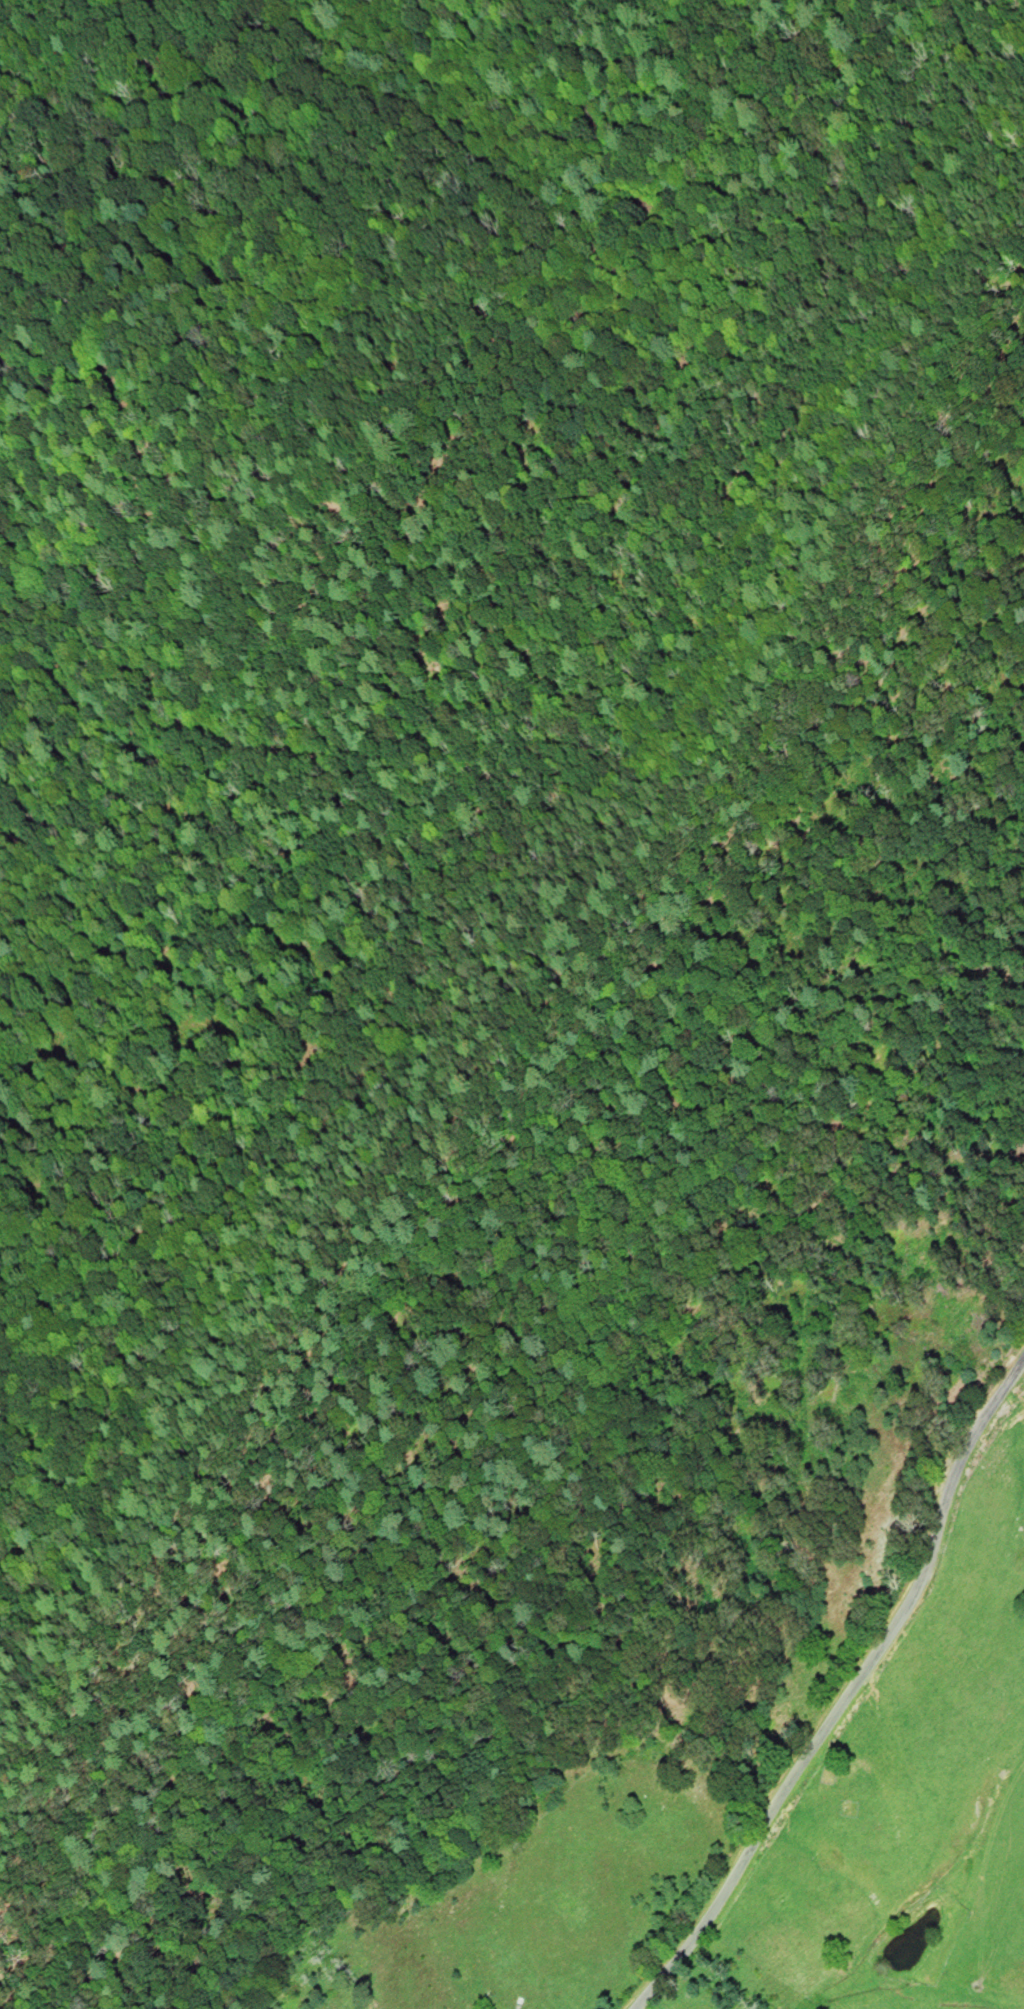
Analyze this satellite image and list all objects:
road: (854, 1696)
park: (833, 1773)
park: (851, 1808)

